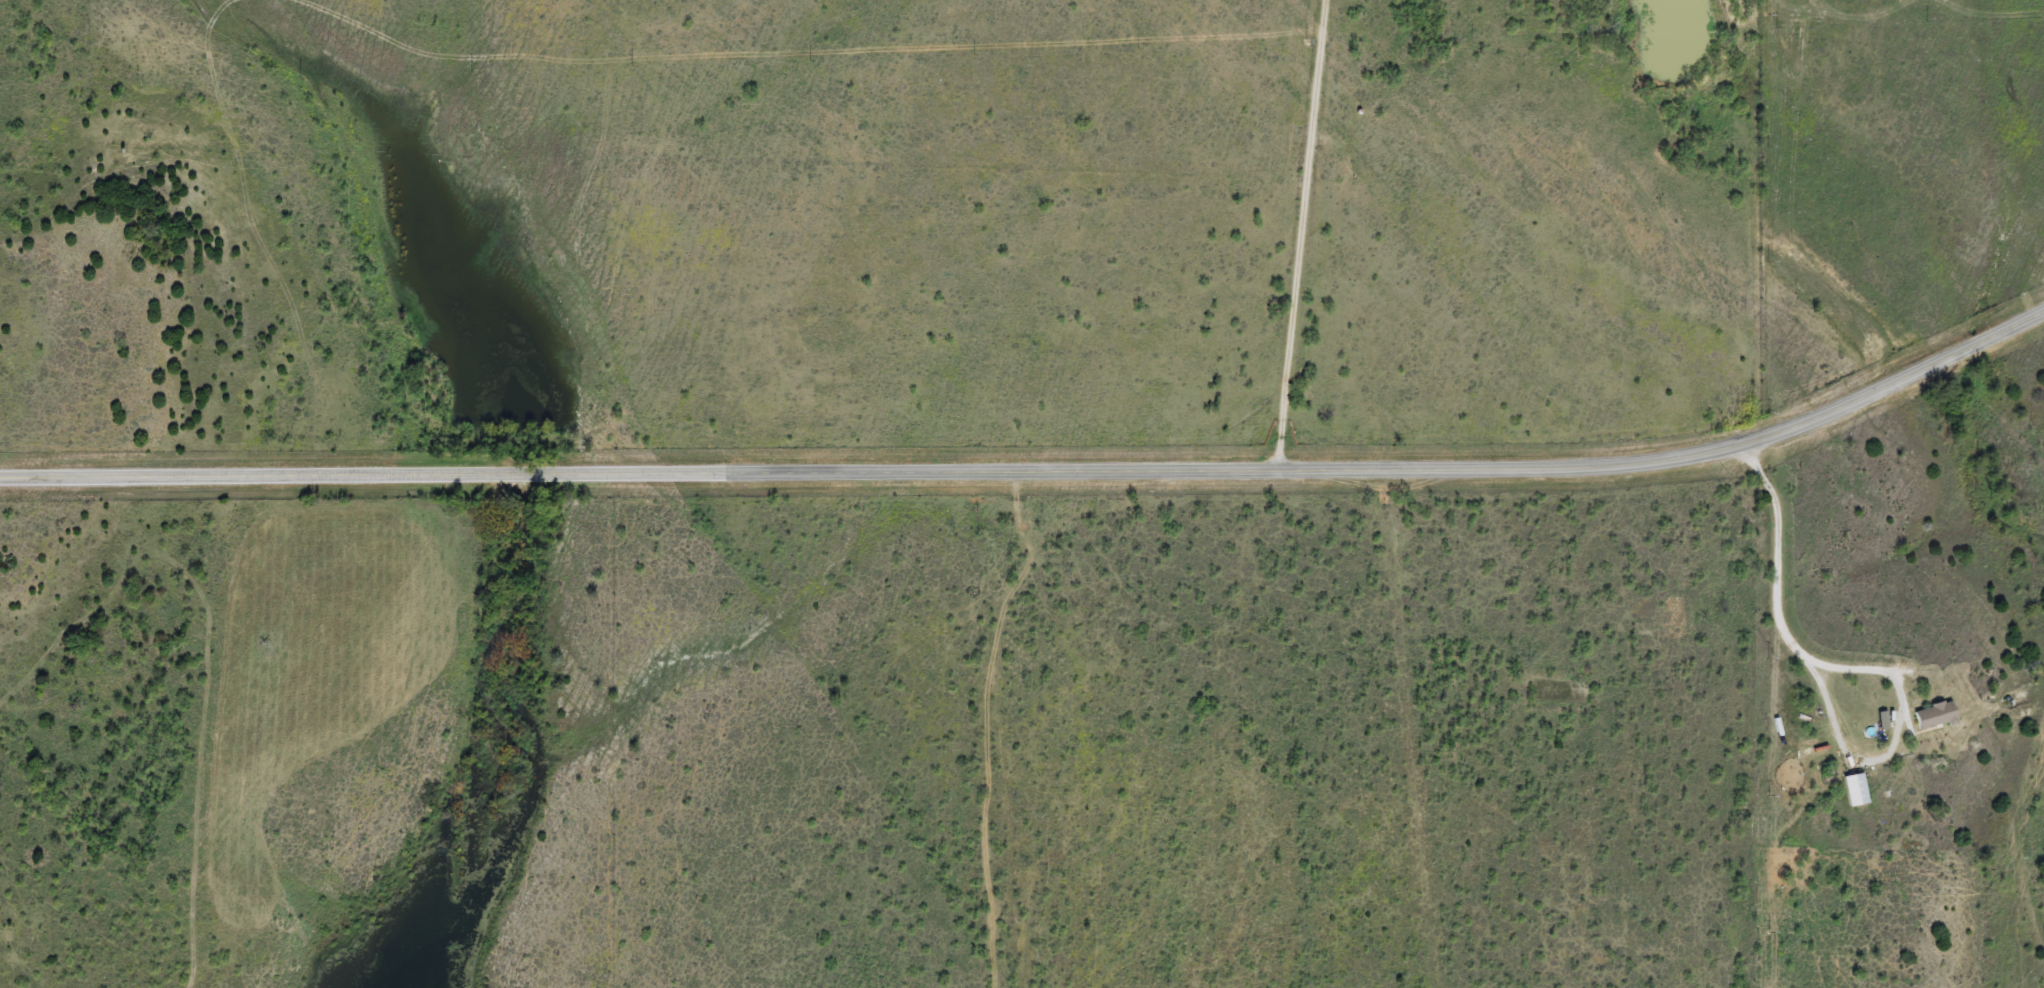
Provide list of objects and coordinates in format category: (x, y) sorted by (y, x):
road: (1282, 234)
road: (1037, 472)
road: (1848, 669)
building: (1936, 716)
building: (1883, 722)
road: (1002, 729)
building: (1856, 790)

